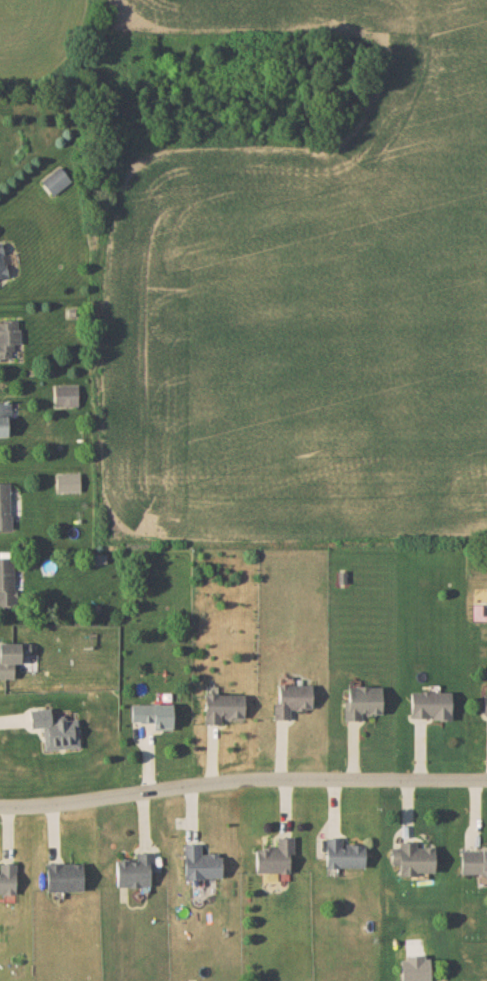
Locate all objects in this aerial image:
building: (2, 262)
building: (8, 338)
building: (4, 418)
building: (5, 505)
building: (7, 583)
building: (17, 658)
building: (292, 699)
building: (362, 701)
building: (485, 702)
building: (430, 704)
building: (223, 707)
building: (153, 714)
road: (242, 782)
building: (343, 853)
building: (274, 856)
building: (413, 858)
building: (473, 861)
building: (201, 862)
building: (134, 870)
building: (64, 876)
building: (7, 878)
building: (416, 968)

